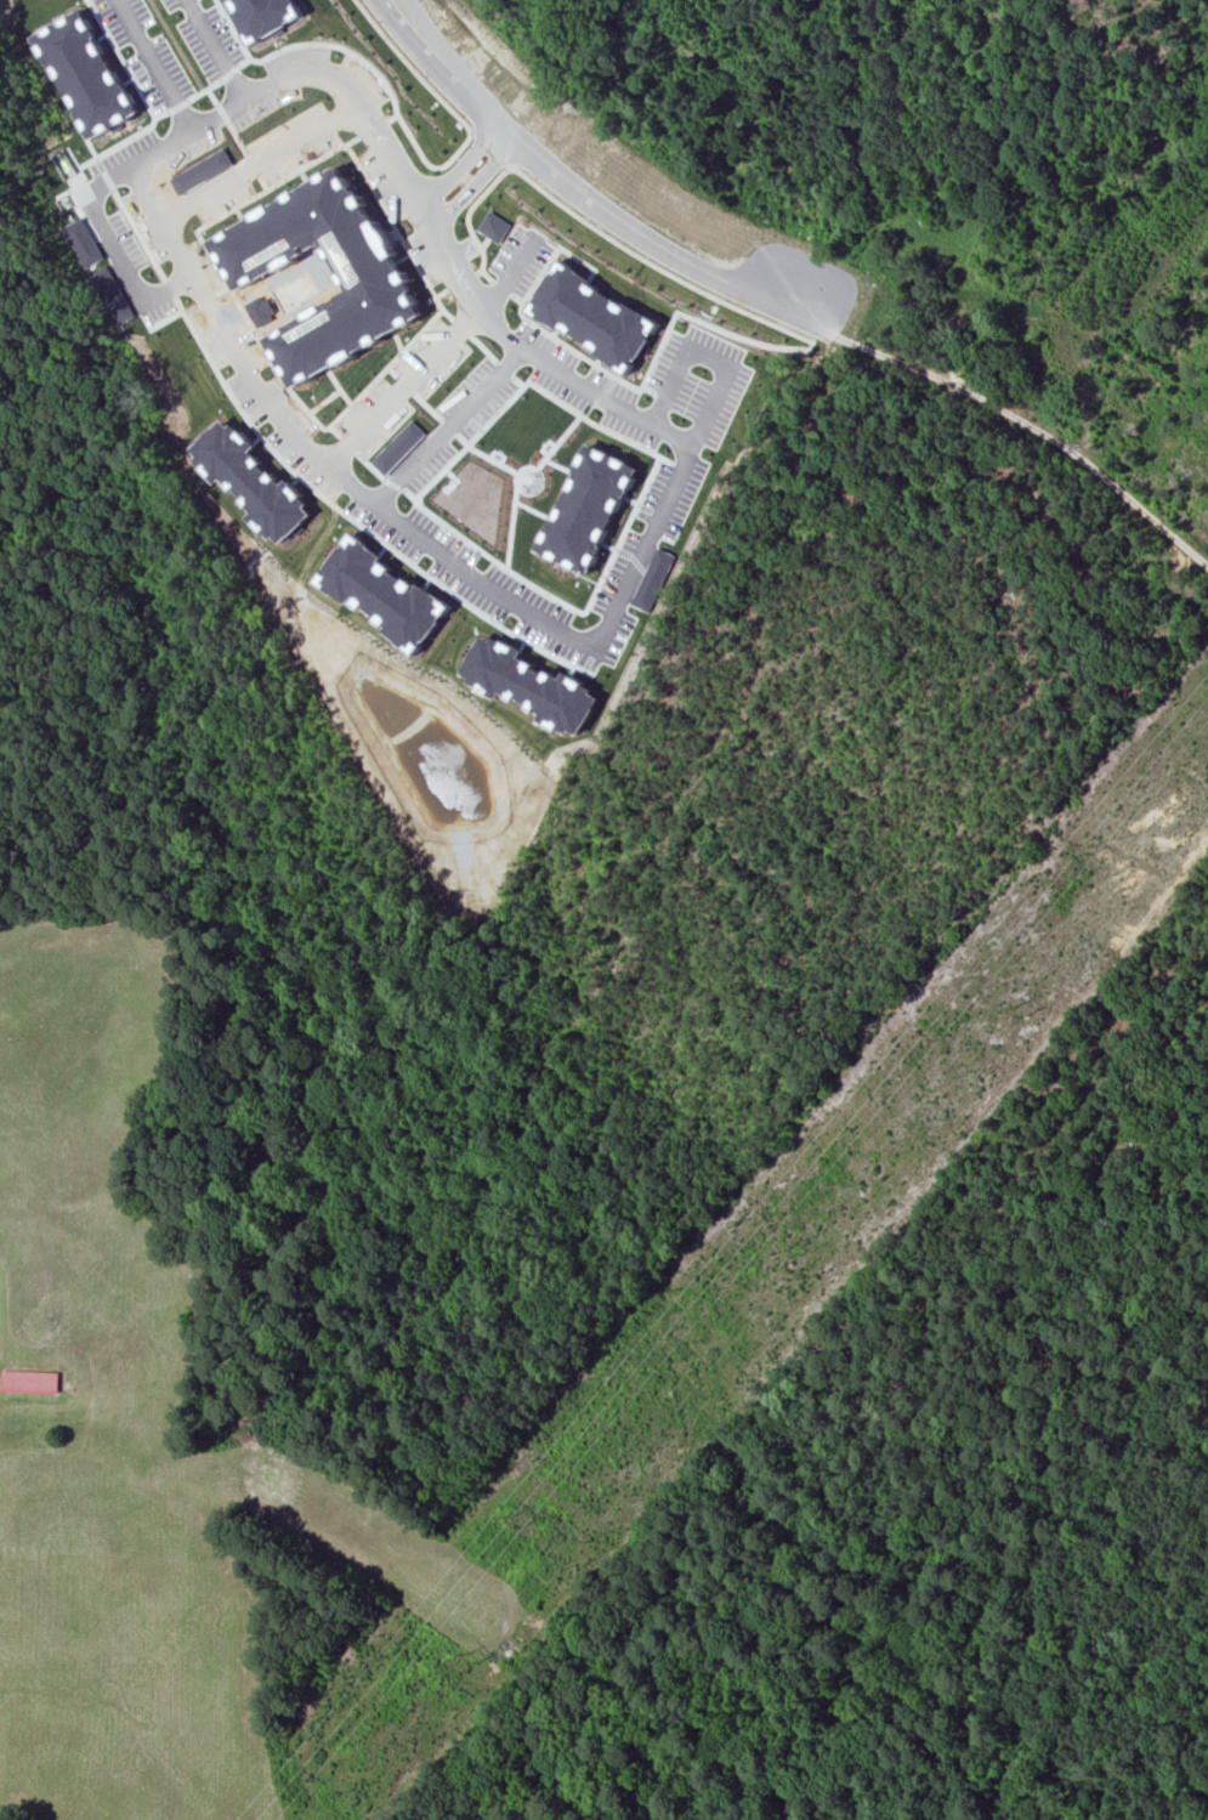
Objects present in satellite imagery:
road: (398, 12)
road: (403, 12)
building: (266, 16)
road: (215, 49)
road: (119, 58)
road: (415, 70)
building: (87, 74)
road: (220, 112)
road: (489, 148)
road: (256, 163)
building: (200, 170)
road: (463, 171)
road: (584, 197)
road: (469, 220)
building: (497, 227)
building: (85, 243)
road: (117, 246)
road: (452, 259)
road: (654, 266)
building: (369, 267)
road: (512, 274)
building: (114, 295)
building: (596, 317)
road: (707, 355)
road: (402, 381)
road: (450, 429)
road: (310, 444)
building: (399, 448)
road: (690, 450)
building: (255, 481)
building: (588, 509)
building: (652, 579)
building: (386, 593)
building: (532, 686)
power tower: (1088, 850)
power tower: (1020, 1009)
power tower: (925, 1033)
building: (32, 1380)
power tower: (516, 1515)
power tower: (471, 1660)

